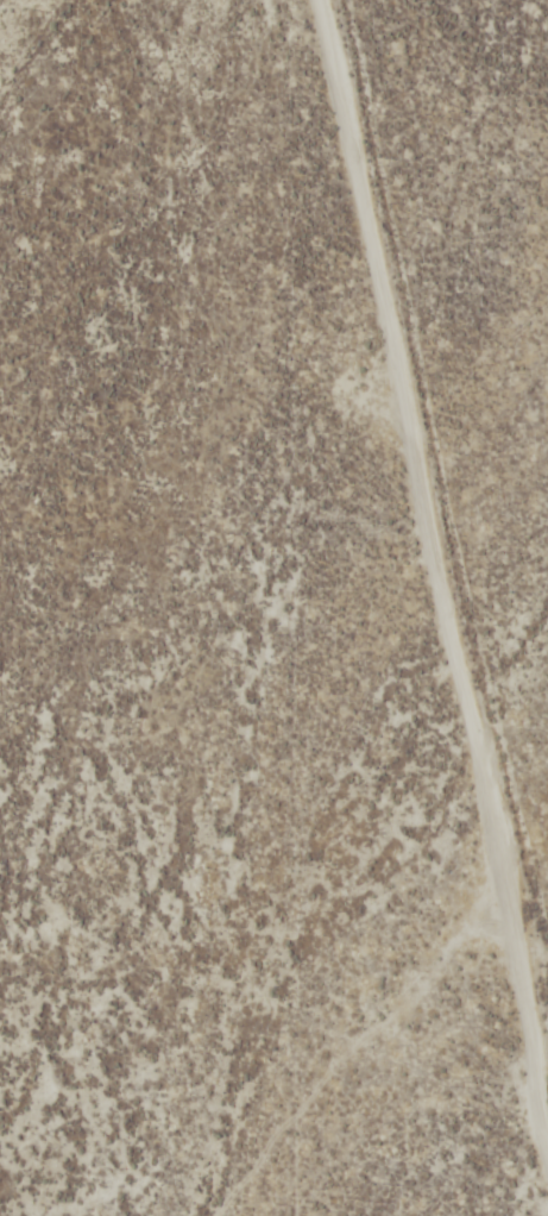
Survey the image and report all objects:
road: (449, 443)
crop: (273, 608)

